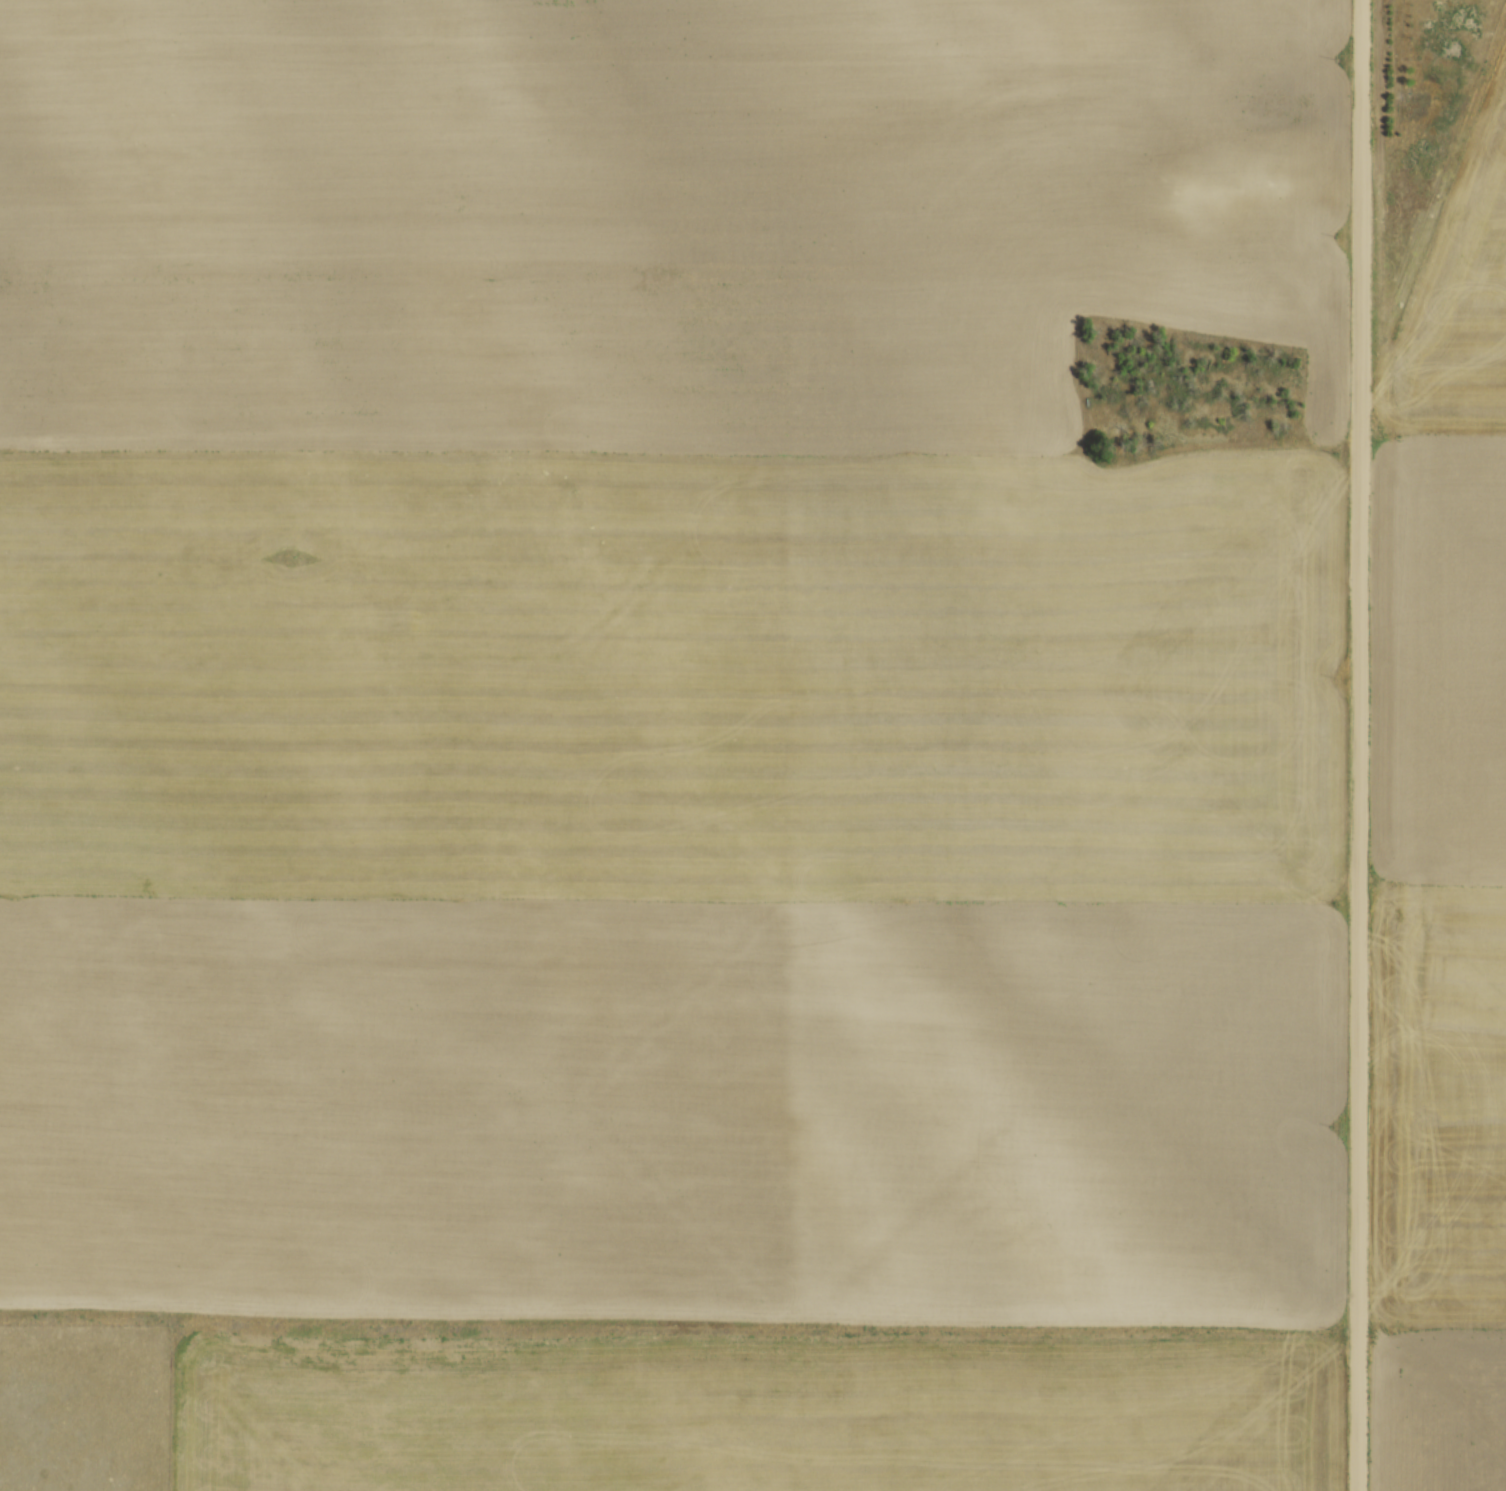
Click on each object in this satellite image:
crop: (897, 548)
road: (1359, 745)
crop: (1451, 772)

